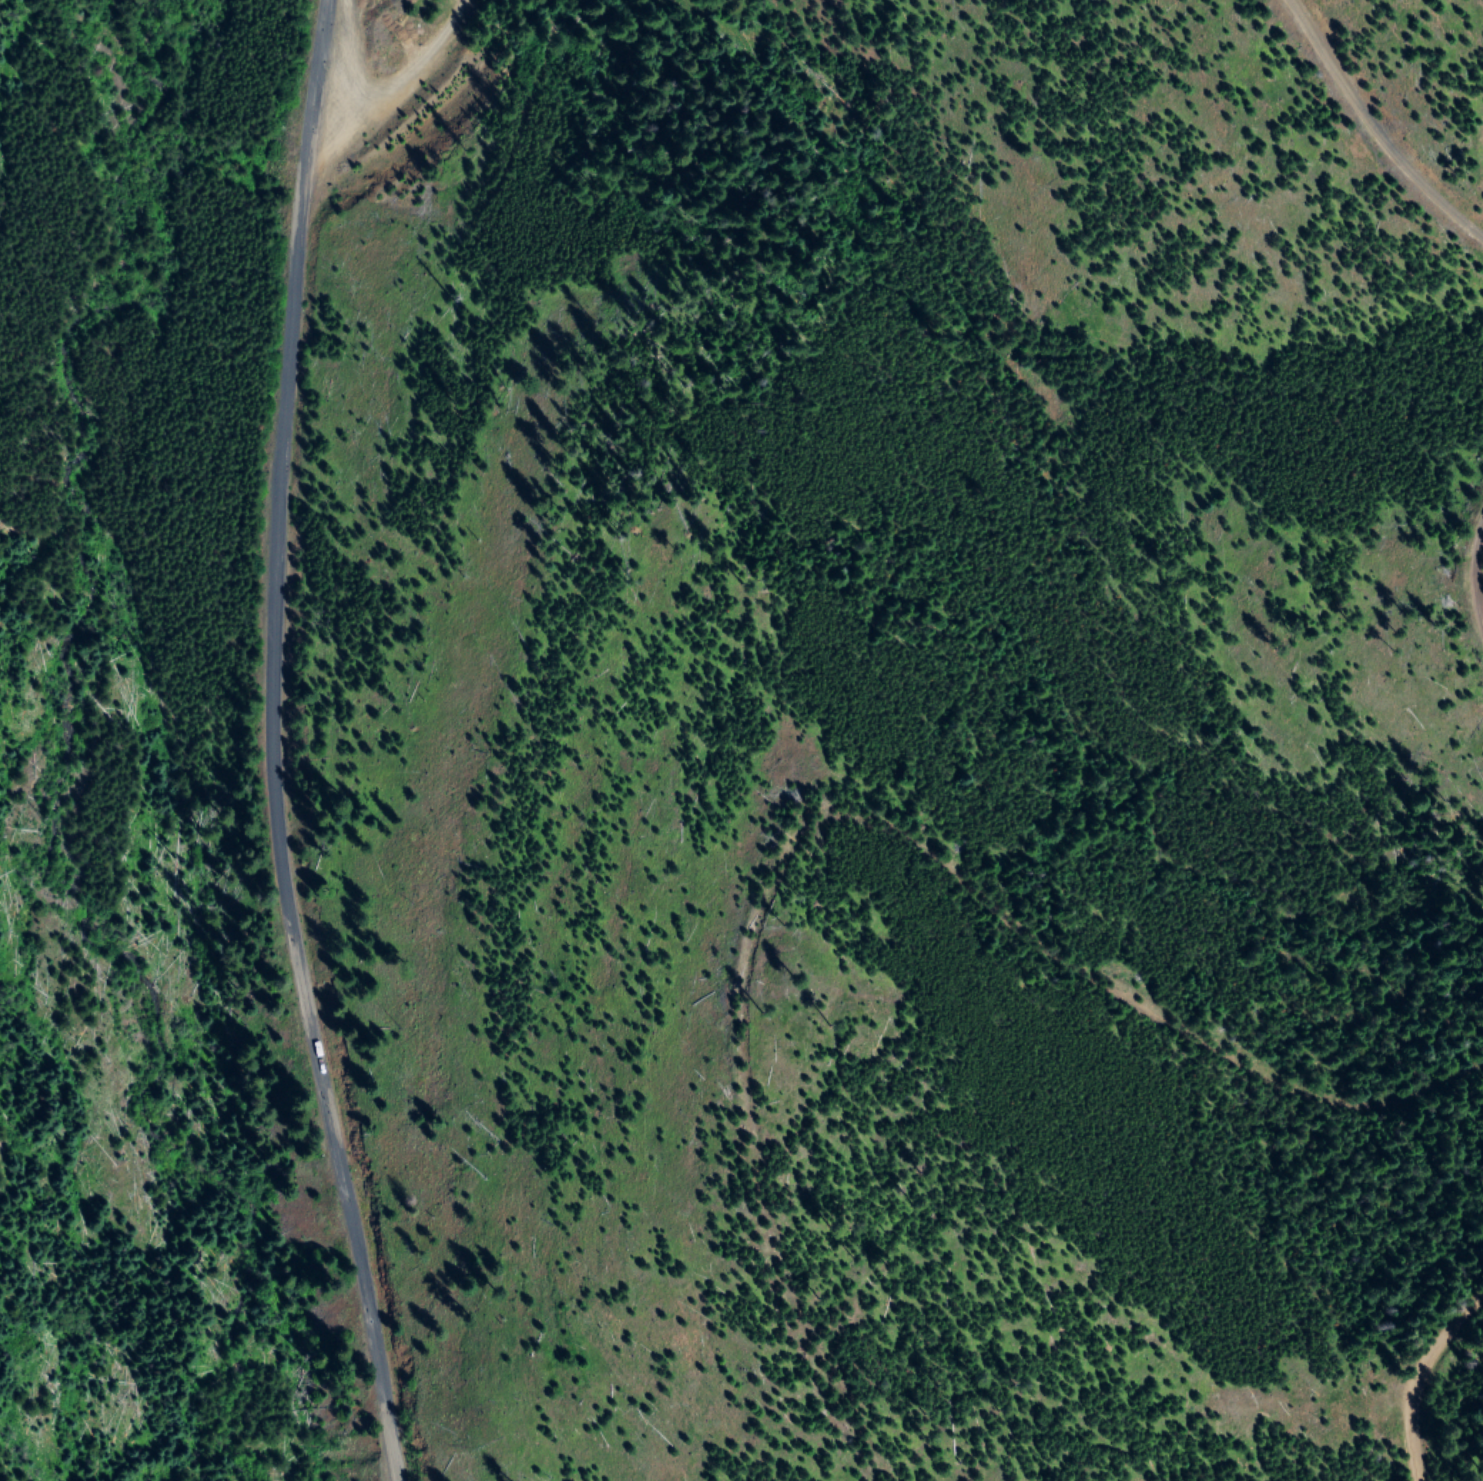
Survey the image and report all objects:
road: (393, 67)
road: (1378, 109)
road: (248, 745)
road: (1452, 1441)

